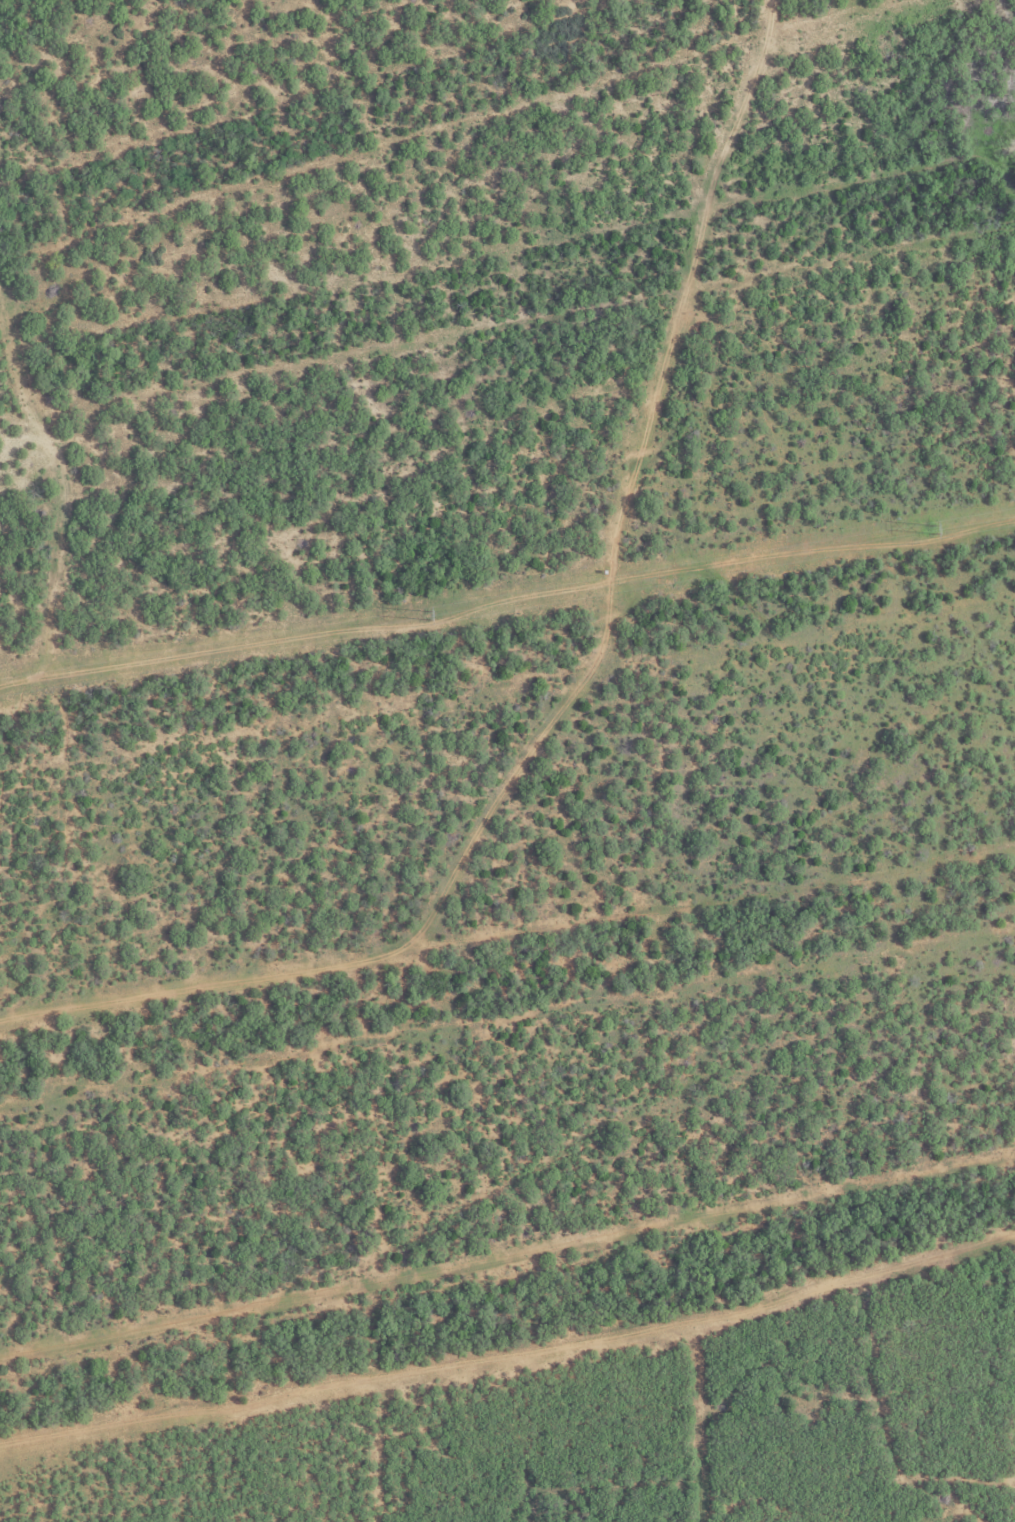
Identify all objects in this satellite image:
power tower: (929, 530)
power tower: (426, 616)

